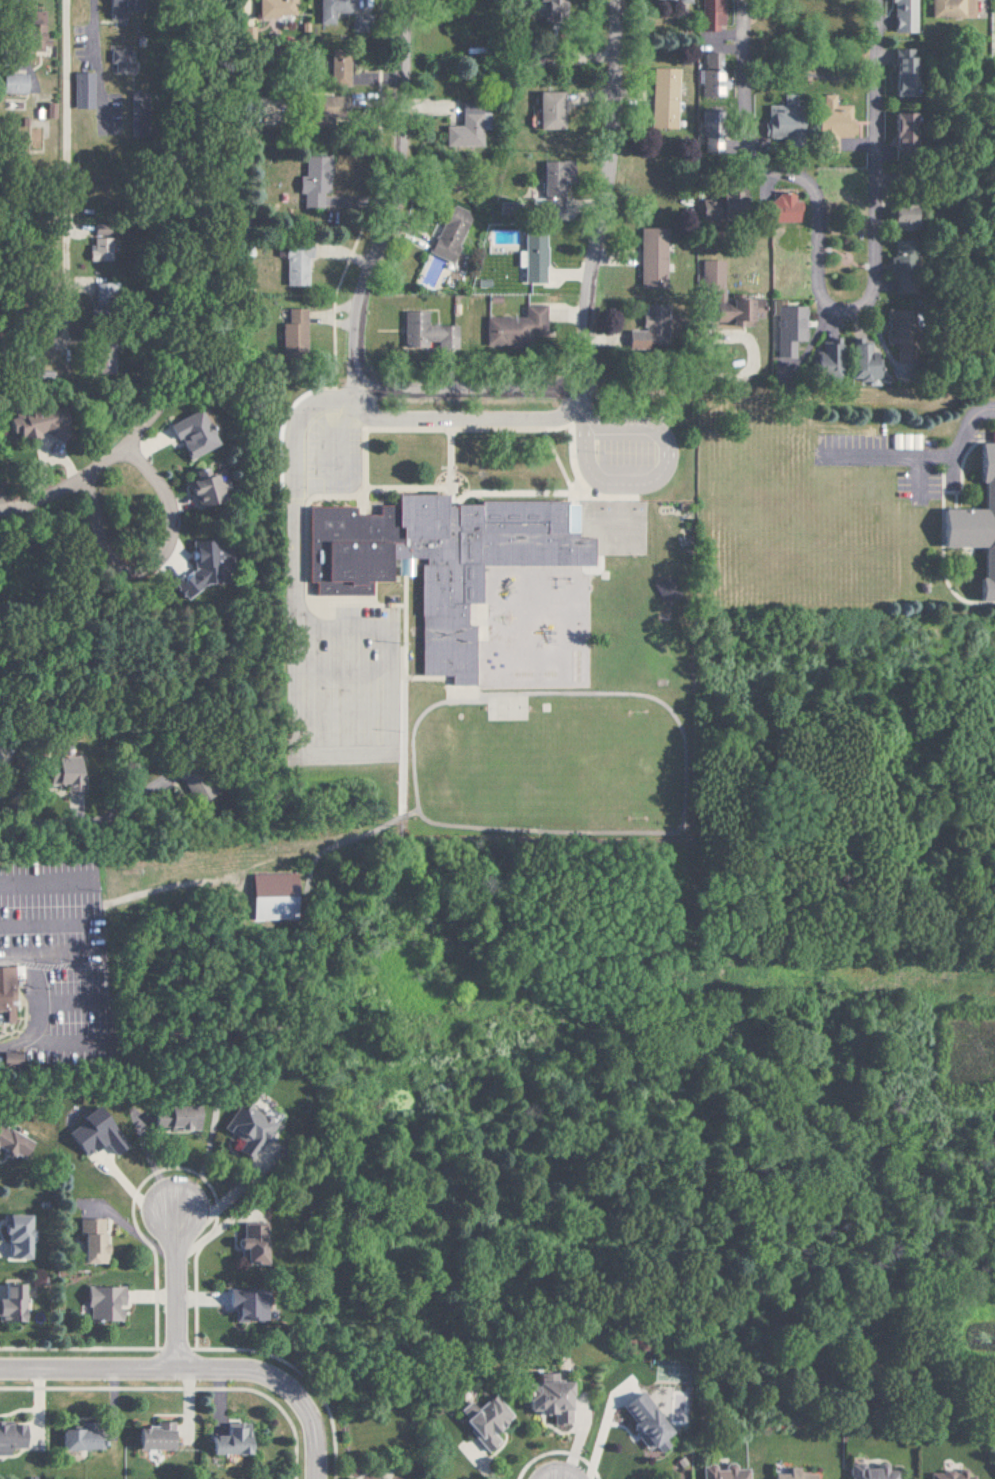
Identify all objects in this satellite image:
building: (675, 1)
building: (271, 8)
building: (547, 8)
building: (947, 8)
building: (326, 10)
building: (705, 15)
building: (899, 16)
road: (15, 28)
building: (31, 30)
building: (244, 33)
road: (93, 59)
building: (115, 61)
building: (336, 69)
building: (11, 83)
building: (78, 90)
building: (658, 98)
building: (321, 110)
building: (544, 110)
building: (779, 119)
building: (827, 124)
building: (897, 128)
building: (464, 129)
building: (708, 145)
building: (311, 181)
building: (550, 183)
road: (63, 185)
road: (603, 191)
road: (393, 201)
building: (774, 209)
building: (897, 217)
building: (444, 233)
building: (98, 249)
building: (528, 256)
building: (646, 258)
building: (897, 262)
building: (293, 265)
building: (722, 297)
road: (825, 298)
building: (511, 327)
building: (645, 329)
building: (784, 330)
building: (422, 332)
building: (289, 333)
building: (823, 359)
building: (858, 361)
road: (577, 417)
road: (471, 418)
building: (31, 423)
building: (186, 434)
road: (979, 435)
road: (993, 436)
parking lot: (314, 445)
road: (928, 456)
road: (955, 469)
road: (656, 472)
road: (66, 482)
building: (198, 487)
building: (976, 521)
road: (290, 548)
building: (439, 560)
road: (154, 564)
building: (195, 567)
parking lot: (347, 687)
building: (58, 771)
building: (191, 790)
road: (47, 818)
building: (267, 893)
road: (11, 953)
road: (335, 988)
building: (4, 995)
road: (36, 1012)
building: (7, 1060)
building: (169, 1118)
building: (246, 1129)
building: (89, 1133)
building: (9, 1144)
road: (126, 1228)
building: (11, 1236)
building: (88, 1241)
building: (247, 1243)
road: (173, 1288)
building: (100, 1304)
building: (242, 1304)
road: (194, 1368)
building: (544, 1398)
building: (481, 1420)
building: (641, 1423)
building: (9, 1437)
building: (149, 1437)
building: (74, 1440)
building: (226, 1440)
building: (867, 1472)
building: (721, 1473)
building: (791, 1475)
building: (946, 1475)

